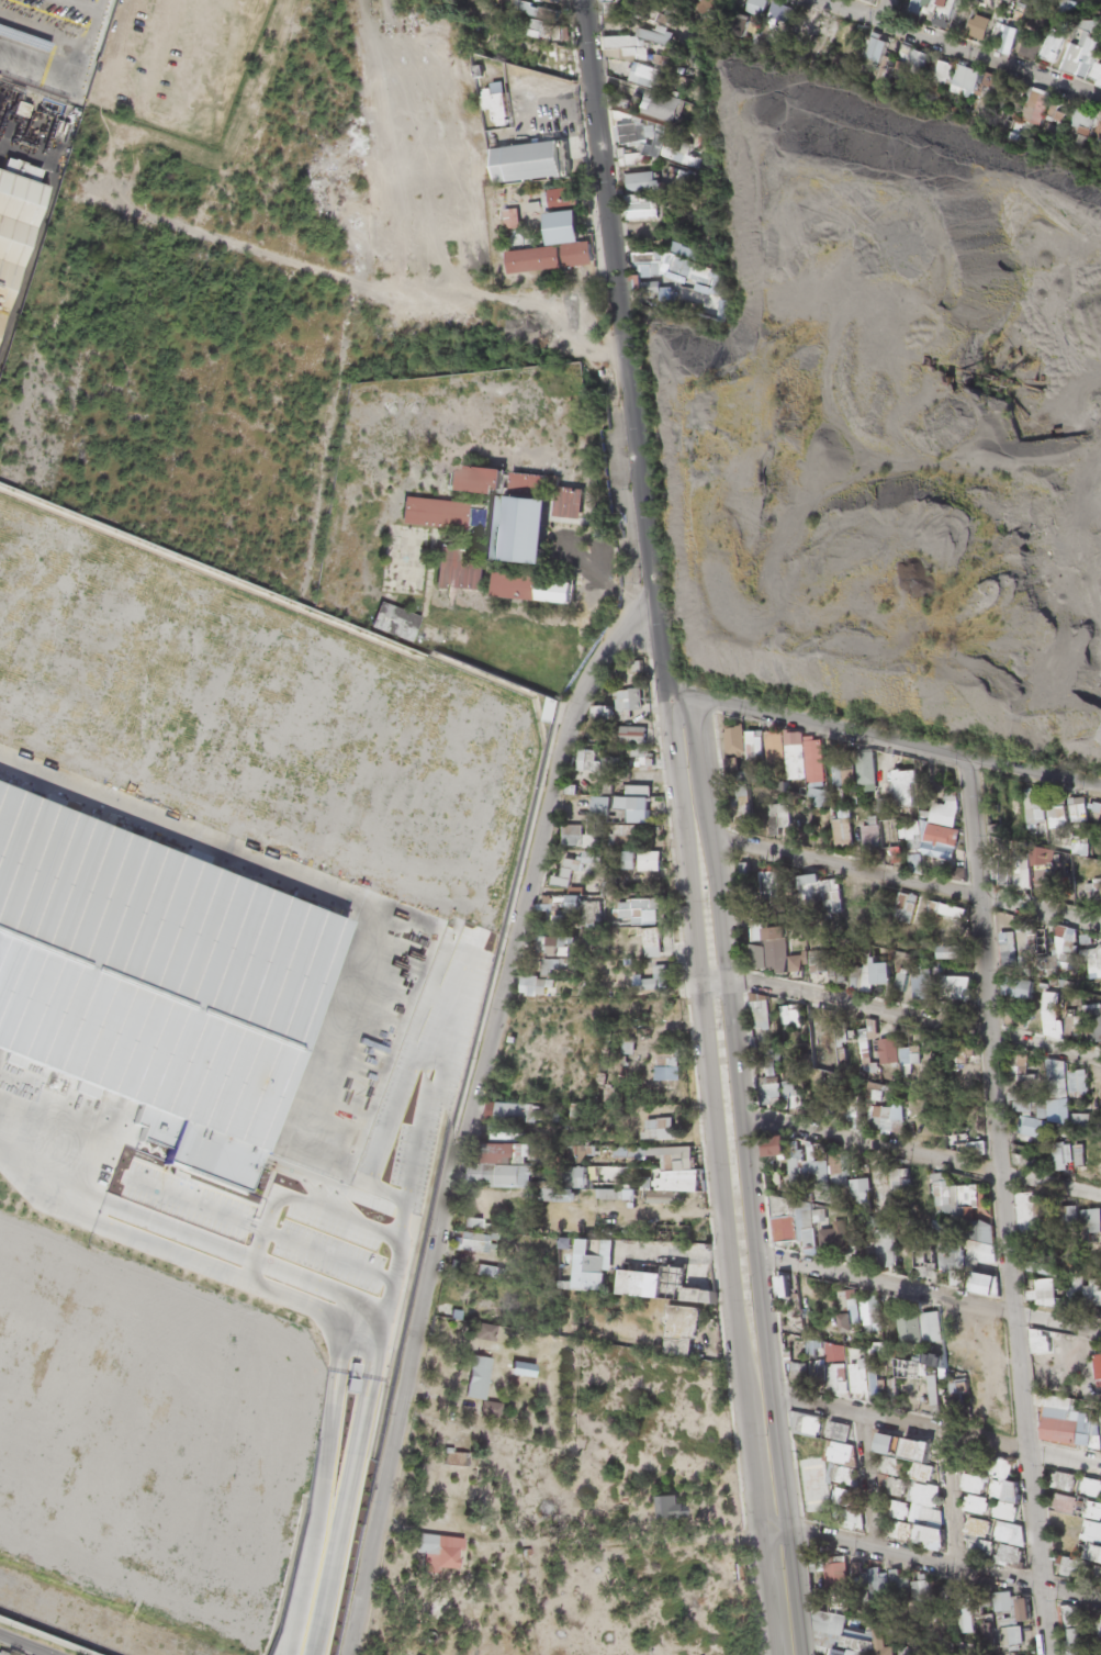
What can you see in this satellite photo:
building: (1048, 116)
road: (876, 738)
road: (898, 879)
road: (895, 1015)
road: (919, 1153)
road: (928, 1293)
road: (936, 1430)
road: (930, 1562)

